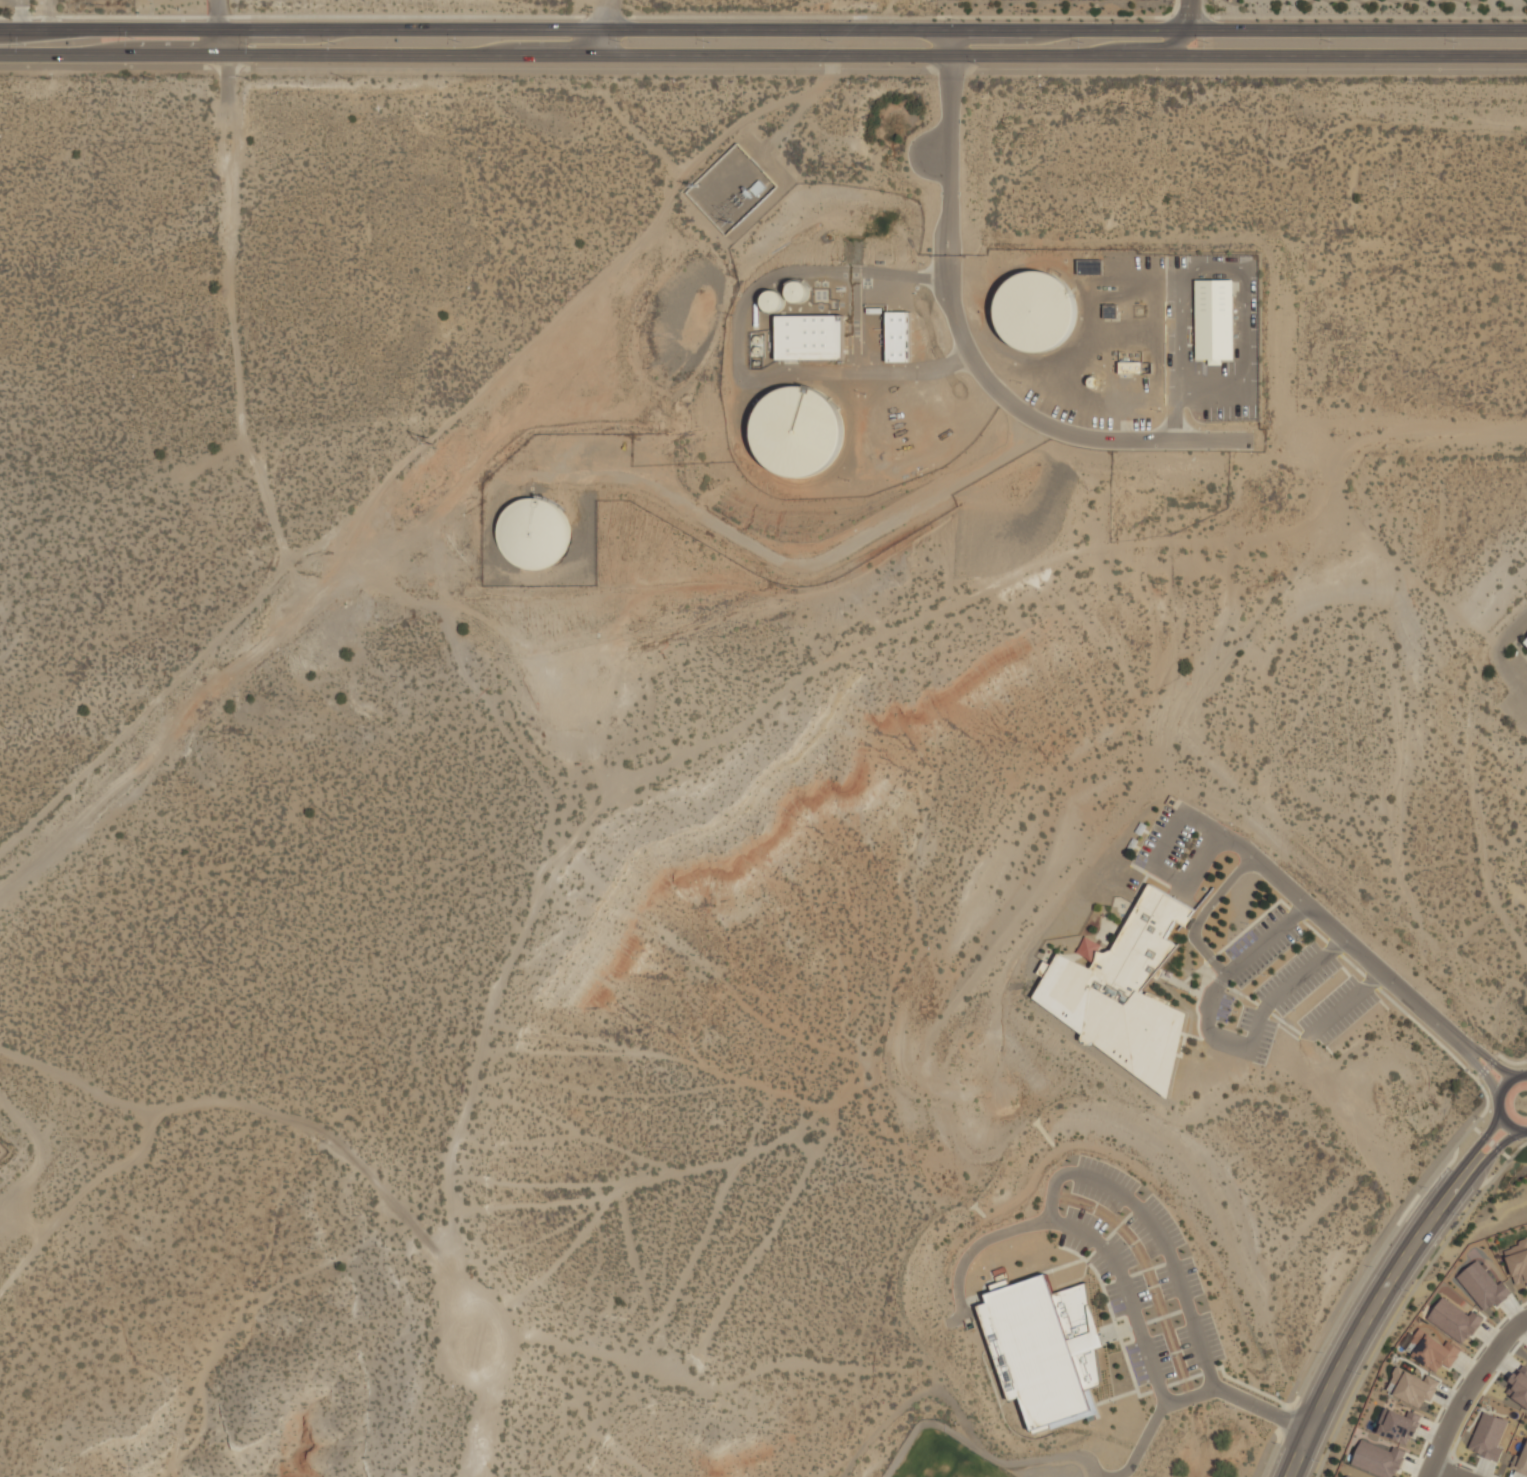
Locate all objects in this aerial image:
road: (607, 15)
road: (1186, 15)
road: (763, 17)
road: (217, 28)
road: (763, 31)
road: (1177, 43)
road: (763, 55)
road: (889, 68)
road: (922, 154)
power tower: (697, 184)
power substation: (733, 189)
power tower: (723, 213)
road: (857, 271)
road: (904, 278)
building: (773, 301)
building: (1028, 318)
building: (1214, 319)
building: (809, 334)
building: (898, 336)
road: (968, 354)
road: (1179, 359)
building: (1130, 367)
building: (798, 431)
power tower: (428, 440)
building: (536, 532)
building: (1525, 641)
building: (1525, 648)
road: (1270, 872)
road: (1204, 915)
building: (1122, 990)
road: (1350, 1002)
road: (1217, 1038)
road: (1526, 1058)
road: (1491, 1060)
road: (1508, 1062)
road: (1484, 1065)
road: (1482, 1074)
road: (1494, 1103)
road: (5, 1125)
road: (1489, 1141)
road: (1471, 1148)
road: (1485, 1156)
road: (1508, 1157)
road: (1447, 1162)
road: (1477, 1182)
road: (1153, 1233)
road: (1083, 1234)
building: (1518, 1261)
road: (1360, 1268)
parking lot: (1140, 1274)
building: (1482, 1286)
building: (1454, 1320)
road: (1351, 1324)
road: (1377, 1330)
building: (1044, 1348)
building: (1432, 1350)
building: (1411, 1386)
building: (1519, 1386)
road: (1469, 1392)
road: (1192, 1397)
building: (1399, 1426)
building: (1487, 1436)
building: (1377, 1459)
park: (942, 1461)
building: (1523, 1462)
road: (1449, 1471)
building: (1348, 1476)

